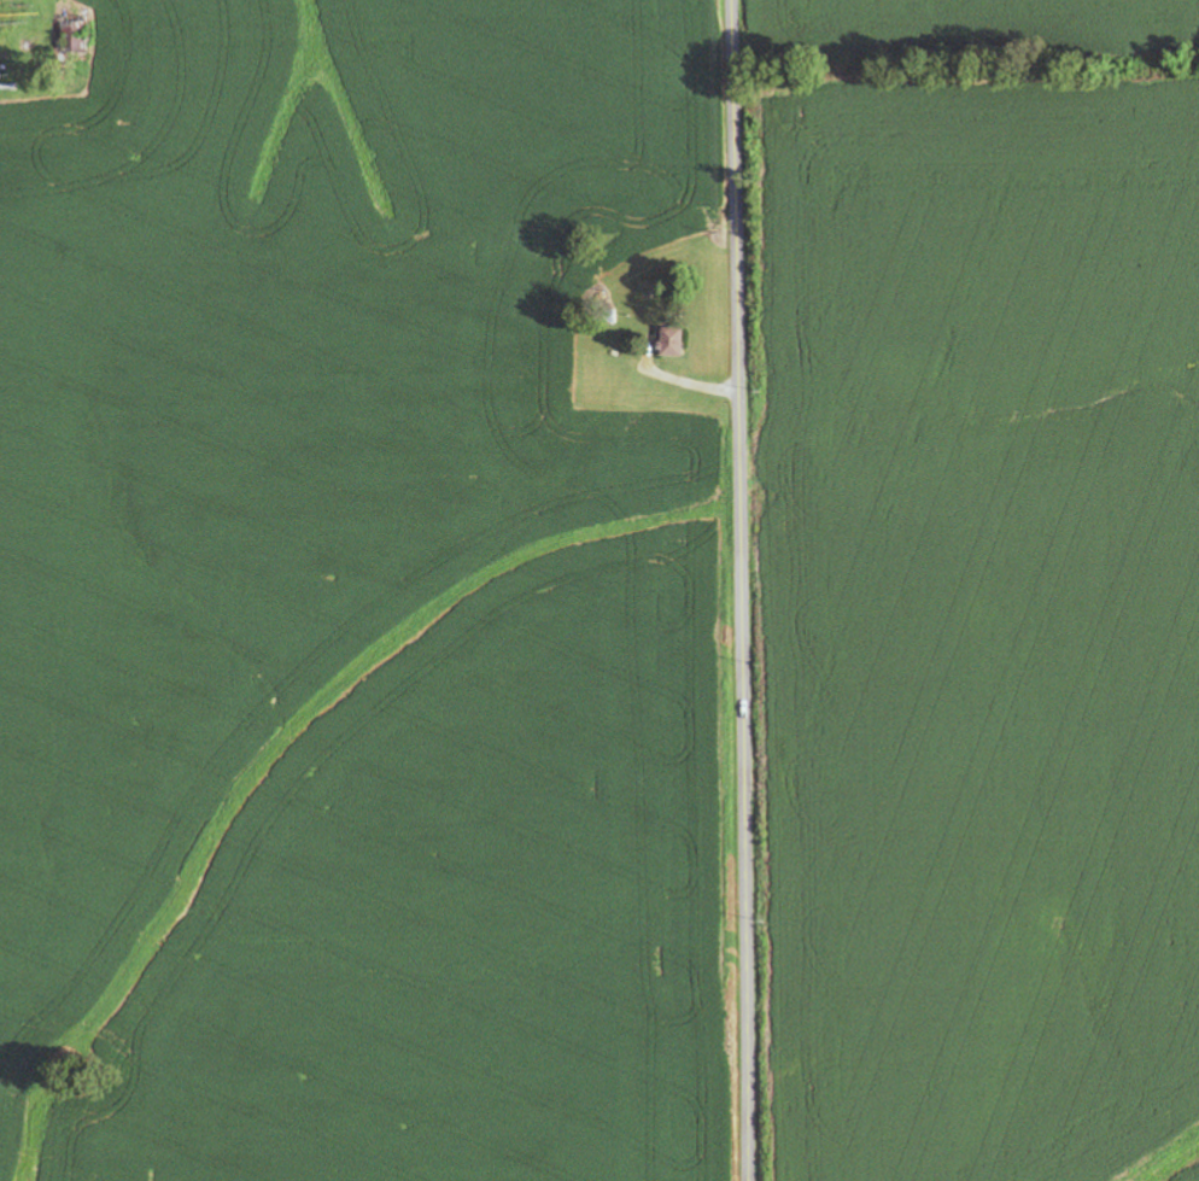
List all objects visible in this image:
building: (674, 341)
road: (744, 590)

